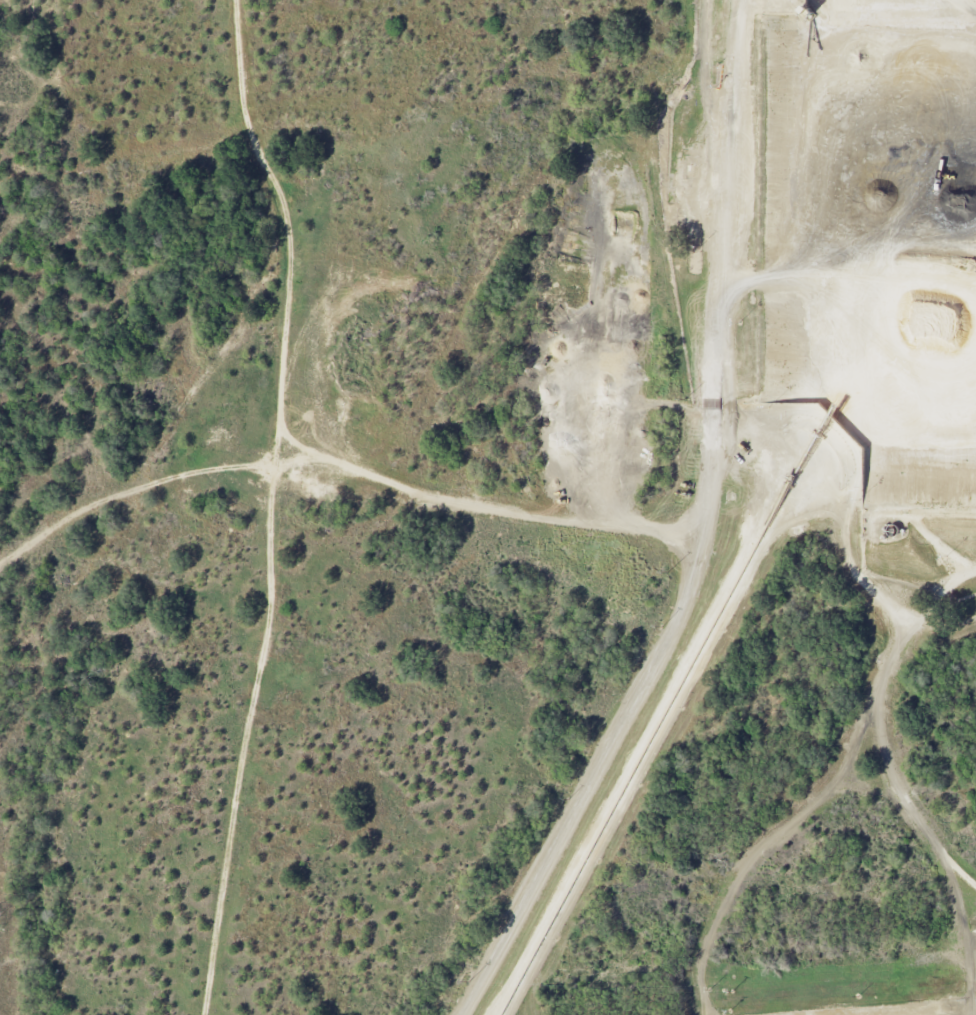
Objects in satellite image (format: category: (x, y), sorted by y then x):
road: (164, 482)
road: (478, 505)
road: (274, 506)
road: (701, 536)

